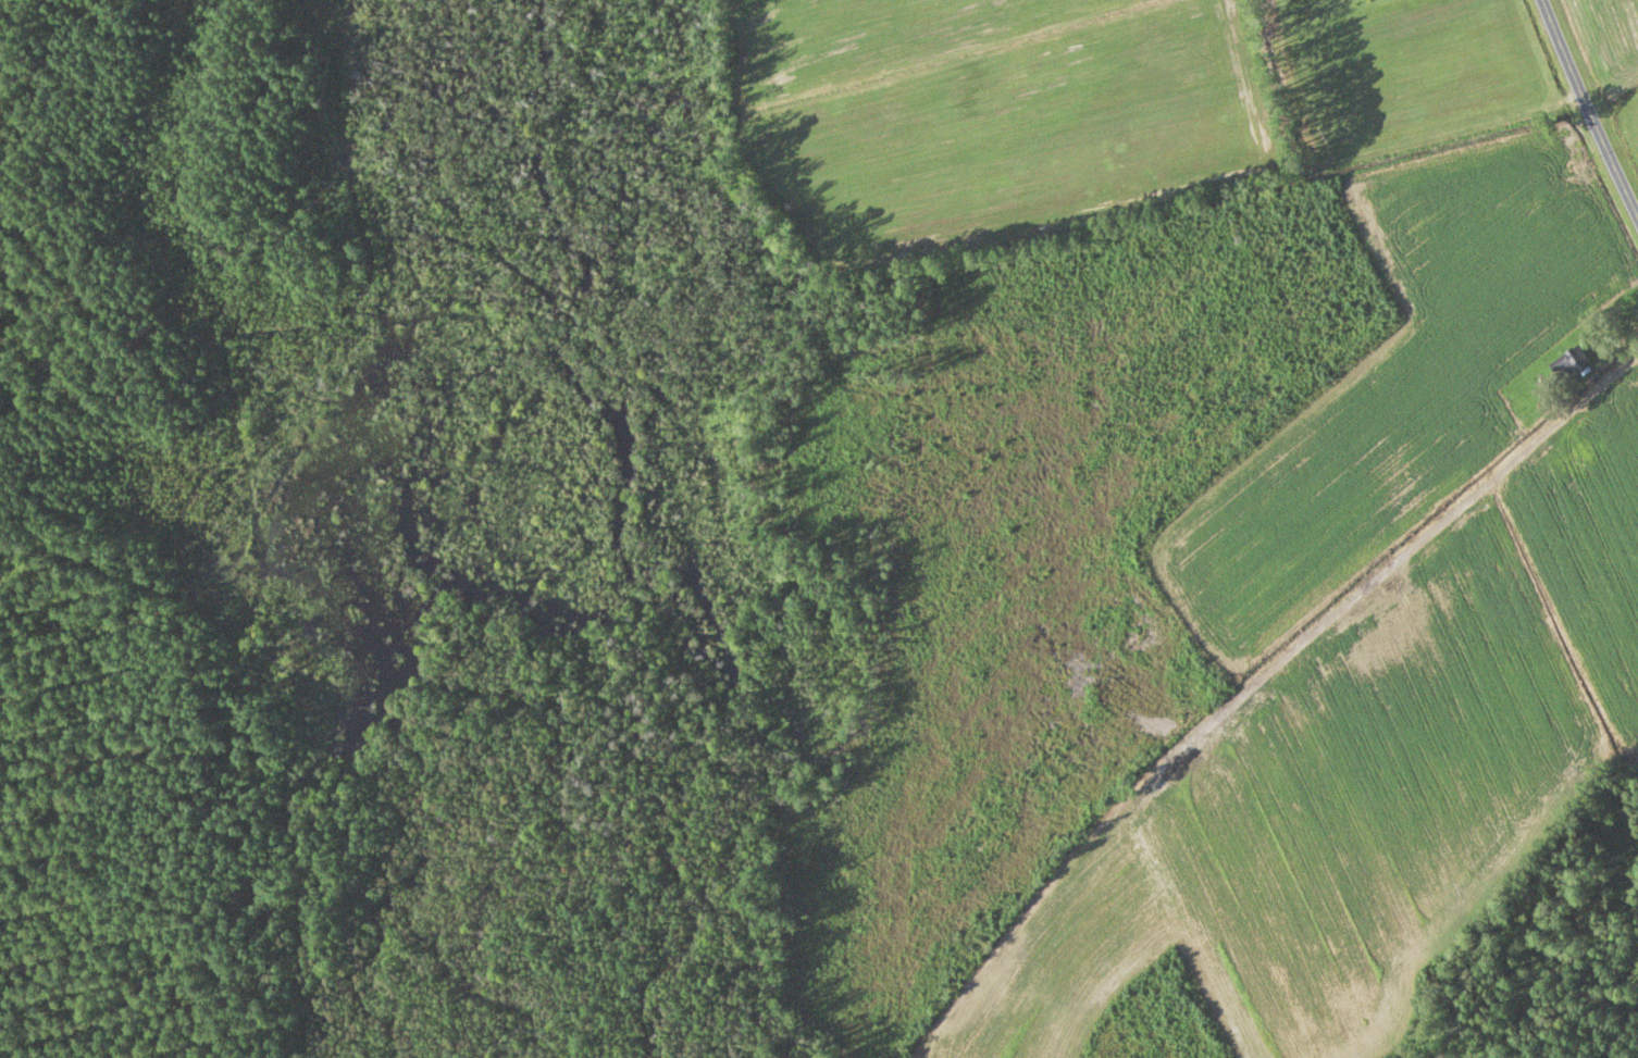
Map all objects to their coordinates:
road: (1585, 110)
building: (1565, 362)

